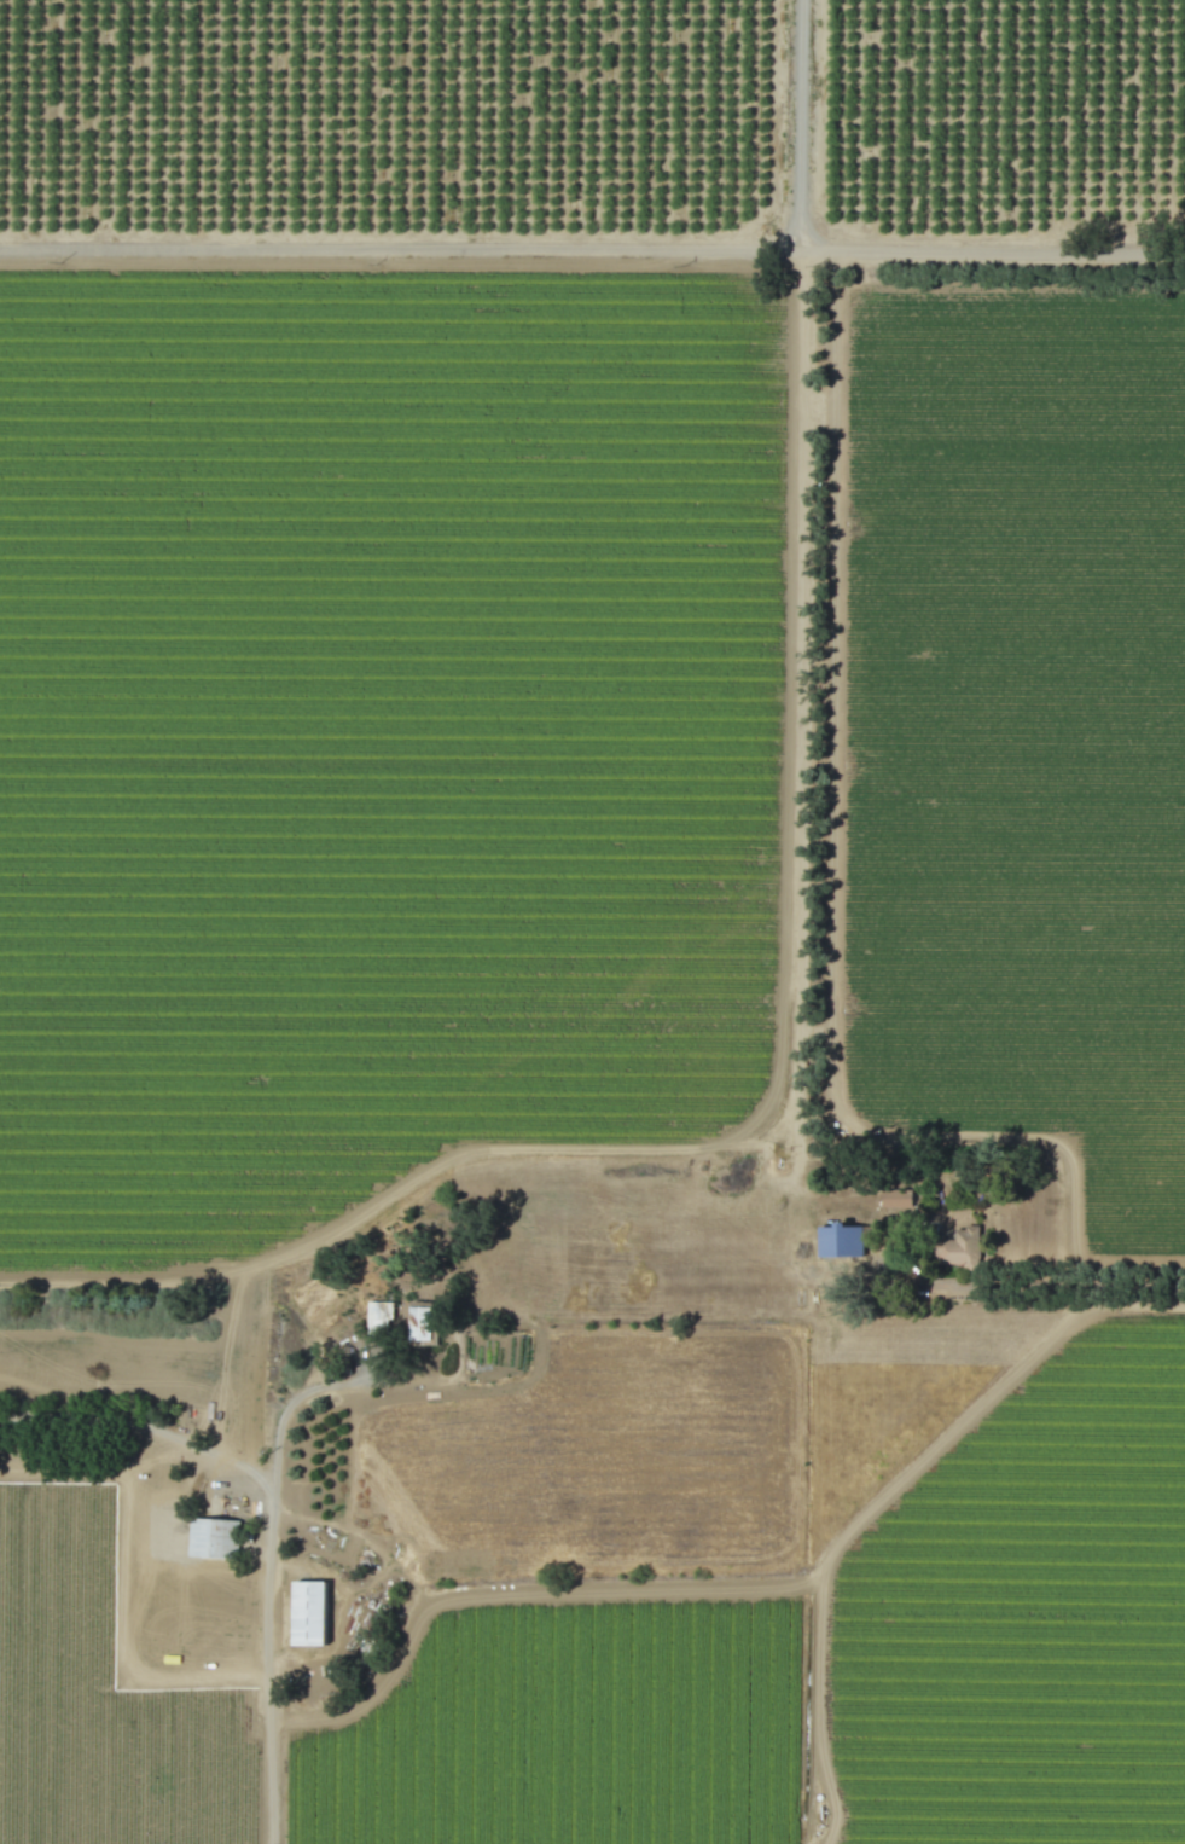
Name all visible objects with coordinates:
road: (802, 128)
road: (592, 253)
building: (896, 1198)
building: (840, 1240)
building: (958, 1248)
road: (1125, 1304)
building: (378, 1316)
building: (420, 1323)
road: (326, 1386)
road: (141, 1425)
building: (213, 1538)
building: (309, 1613)
road: (271, 1664)

